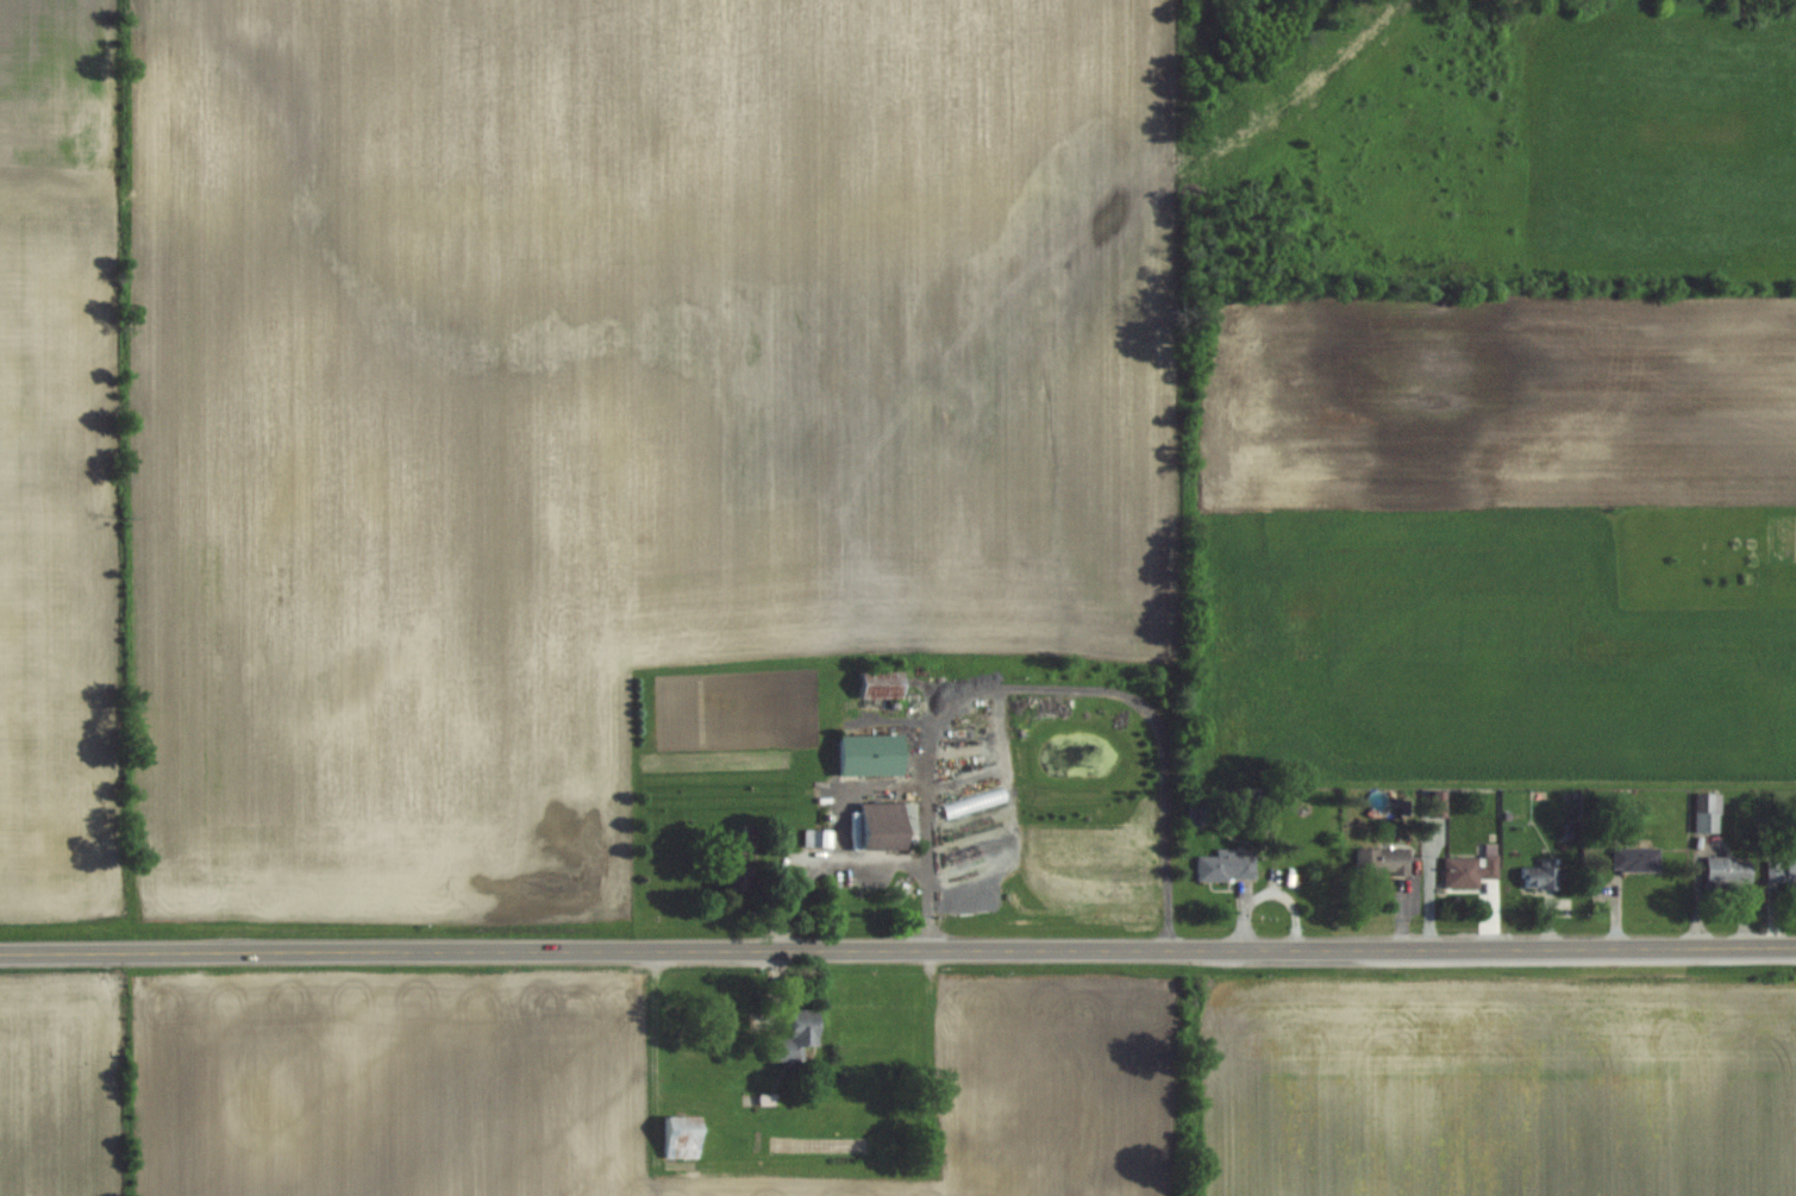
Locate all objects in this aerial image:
building: (881, 684)
road: (1043, 687)
building: (870, 753)
building: (1438, 803)
building: (1707, 813)
building: (1197, 815)
building: (886, 825)
building: (977, 833)
building: (818, 838)
building: (739, 854)
building: (1635, 859)
road: (825, 862)
building: (1381, 863)
building: (980, 865)
building: (1226, 868)
building: (1469, 870)
road: (776, 872)
building: (1728, 872)
building: (1782, 872)
building: (1538, 878)
building: (737, 879)
road: (897, 948)
building: (795, 1038)
building: (681, 1138)

